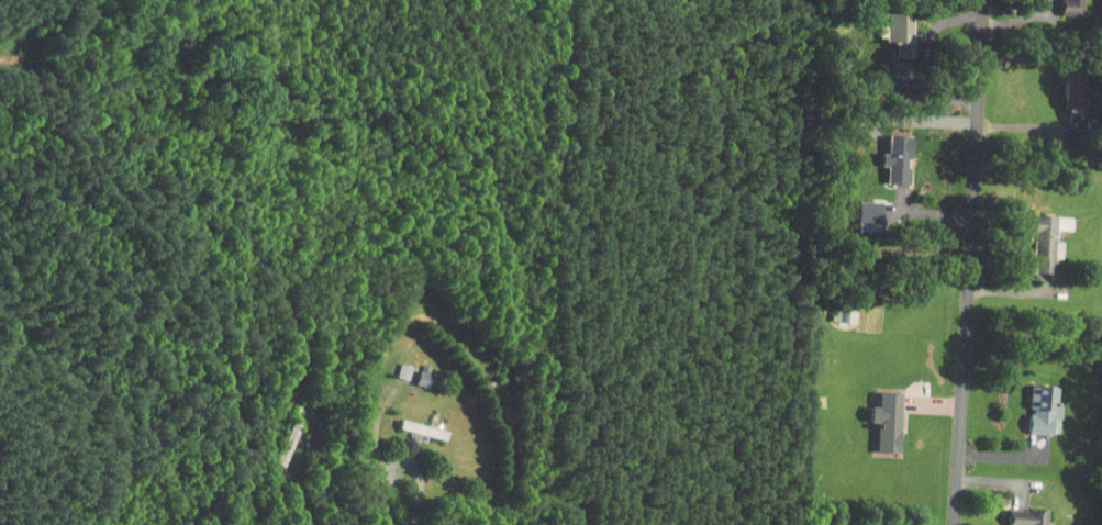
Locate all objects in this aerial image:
building: (1056, 3)
building: (878, 19)
building: (882, 153)
building: (854, 209)
building: (1031, 235)
road: (968, 261)
building: (830, 308)
building: (390, 364)
building: (411, 368)
building: (1028, 403)
building: (872, 415)
building: (408, 422)
road: (418, 489)
building: (1012, 513)
road: (411, 522)

